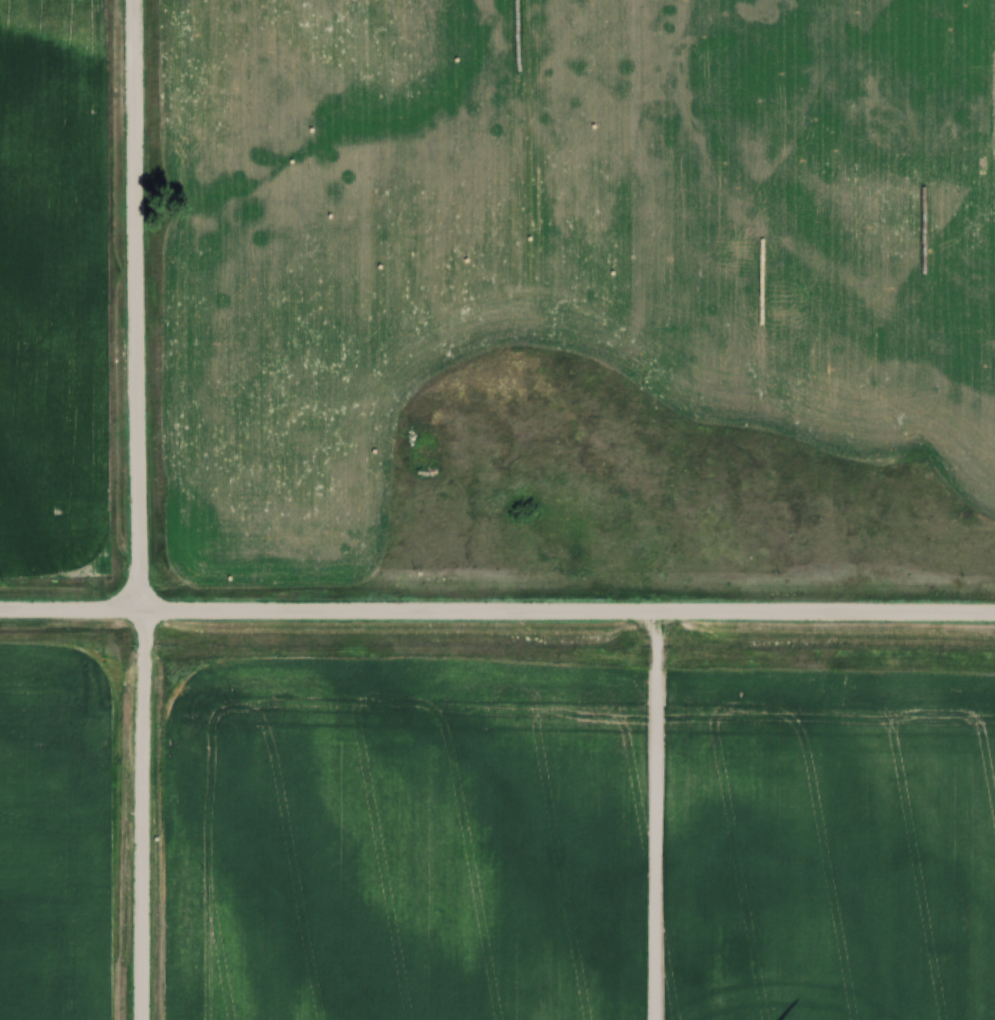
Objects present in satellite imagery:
road: (141, 303)
road: (497, 610)
road: (141, 814)

